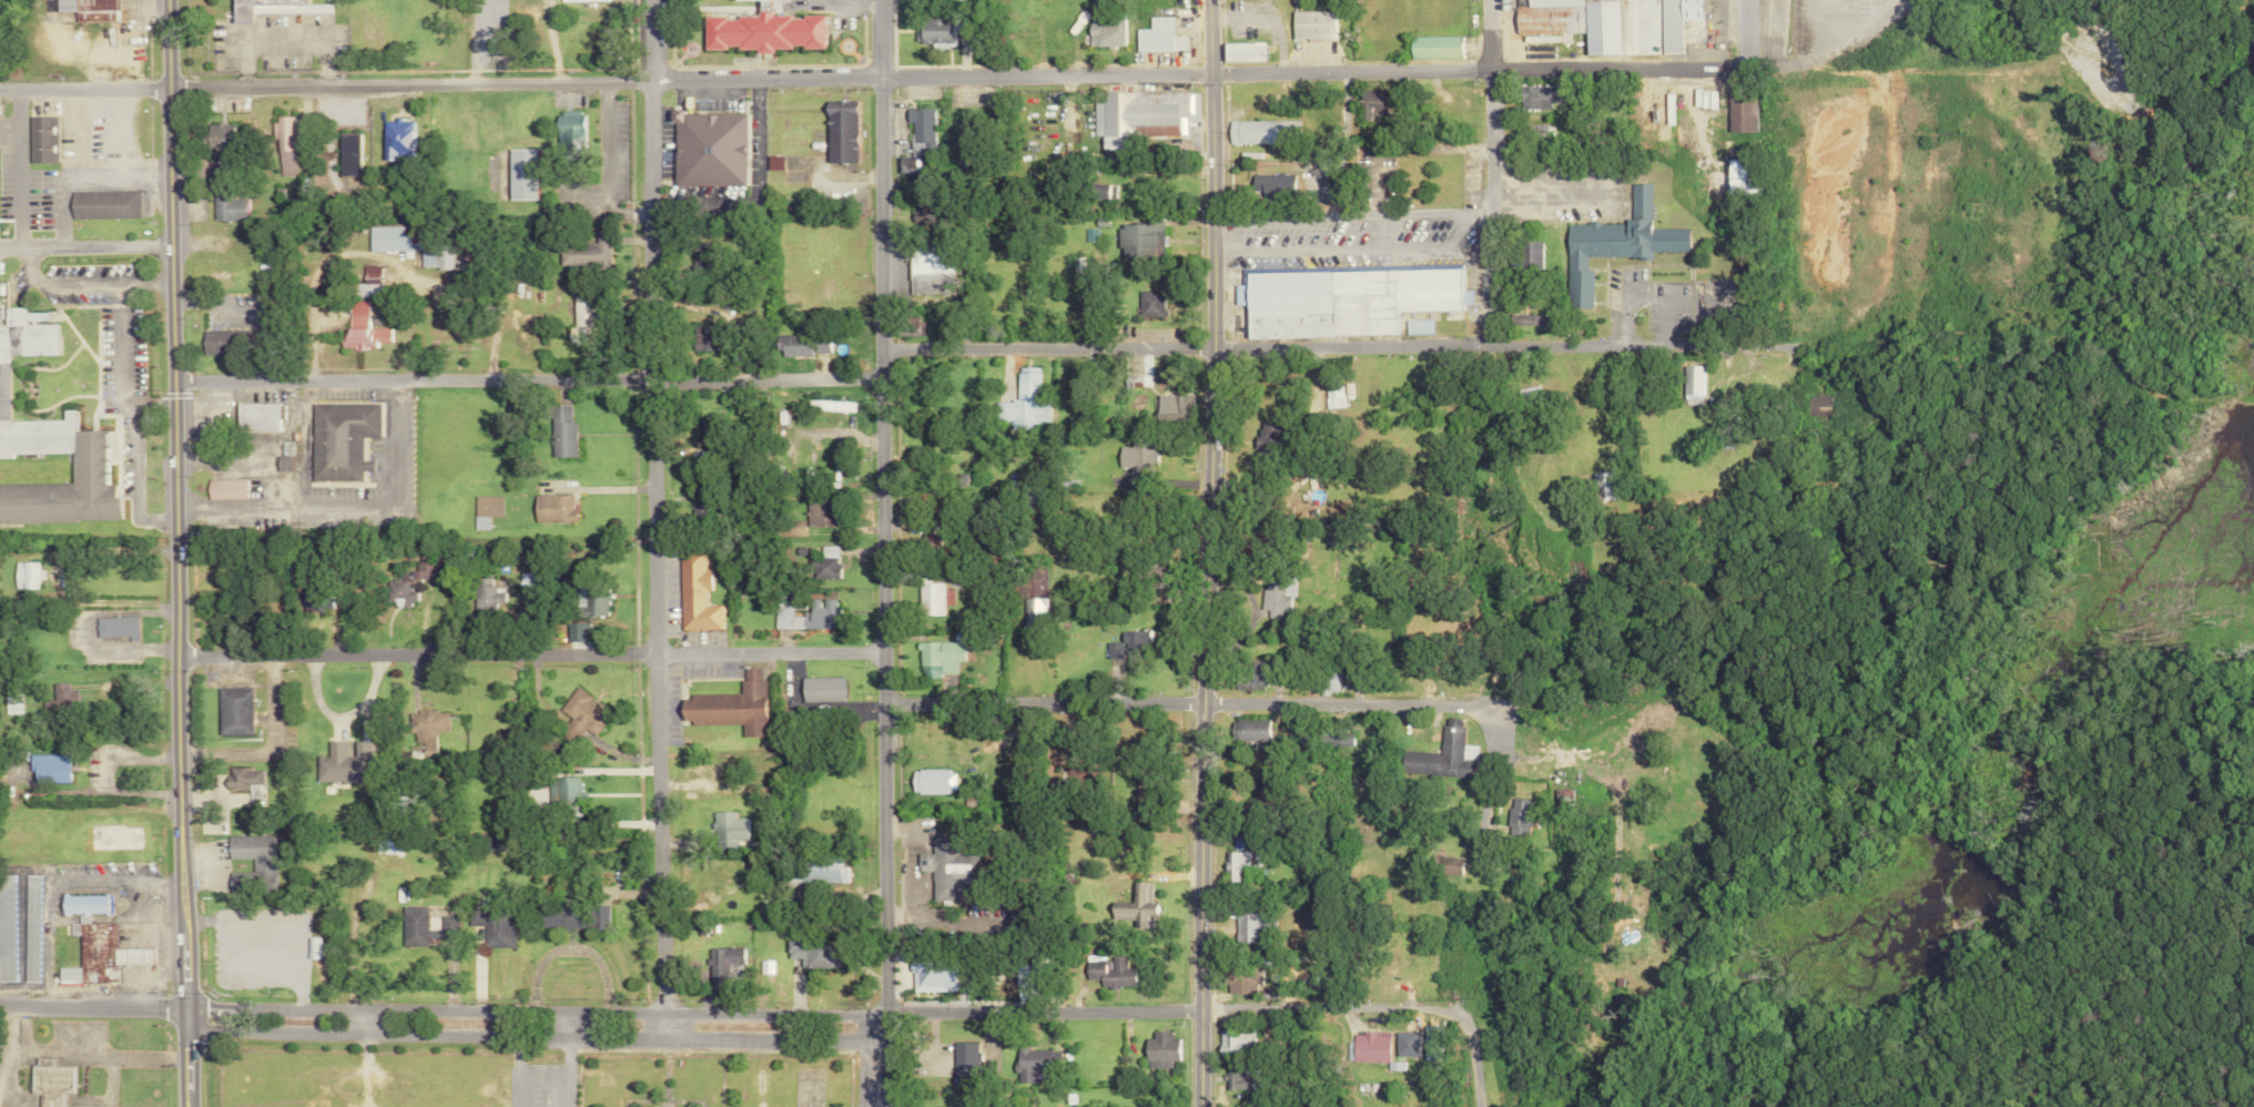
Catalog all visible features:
building: (567, 0)
building: (1297, 0)
building: (273, 8)
building: (87, 9)
building: (1674, 22)
building: (1311, 24)
building: (1598, 28)
building: (762, 30)
building: (933, 30)
building: (1106, 33)
road: (1745, 33)
building: (1158, 35)
road: (281, 41)
building: (1433, 47)
building: (1242, 51)
road: (1808, 55)
road: (869, 77)
building: (1539, 97)
building: (1368, 105)
building: (1738, 112)
building: (1138, 115)
road: (8, 121)
building: (569, 130)
building: (921, 130)
building: (1535, 130)
building: (841, 131)
building: (1261, 132)
building: (216, 136)
building: (39, 139)
building: (397, 140)
road: (1337, 143)
building: (285, 145)
building: (709, 149)
building: (349, 154)
building: (774, 163)
building: (906, 164)
road: (16, 167)
road: (1486, 172)
building: (520, 174)
building: (1734, 177)
building: (1270, 183)
building: (103, 204)
building: (230, 207)
road: (1332, 215)
road: (1472, 215)
road: (1455, 228)
building: (1614, 237)
building: (1140, 241)
building: (410, 244)
road: (83, 245)
road: (1330, 246)
building: (585, 252)
building: (1530, 255)
building: (699, 261)
building: (931, 272)
building: (369, 283)
building: (1353, 294)
building: (1150, 302)
road: (251, 307)
building: (1531, 316)
building: (1417, 326)
building: (362, 327)
building: (703, 338)
building: (217, 342)
building: (802, 345)
road: (1385, 345)
building: (1133, 378)
road: (526, 379)
building: (1692, 385)
building: (1527, 395)
building: (1024, 403)
building: (1823, 404)
building: (1172, 405)
building: (829, 406)
building: (256, 416)
building: (560, 433)
building: (1267, 437)
building: (341, 439)
building: (48, 441)
road: (394, 441)
building: (1137, 459)
road: (87, 469)
building: (1604, 486)
building: (224, 488)
building: (1025, 496)
road: (282, 507)
road: (653, 507)
building: (552, 508)
building: (485, 510)
building: (822, 514)
building: (794, 528)
road: (1204, 552)
road: (173, 553)
road: (884, 553)
building: (826, 563)
building: (24, 576)
building: (409, 583)
building: (696, 595)
building: (1278, 595)
building: (488, 597)
building: (933, 599)
building: (1034, 599)
building: (591, 602)
building: (822, 607)
building: (115, 627)
road: (88, 629)
building: (1129, 648)
road: (530, 653)
building: (937, 658)
building: (1250, 676)
building: (821, 689)
building: (61, 699)
road: (1143, 702)
building: (11, 703)
building: (730, 707)
road: (815, 707)
building: (234, 711)
road: (1483, 725)
building: (428, 729)
building: (1249, 730)
building: (1336, 737)
road: (270, 748)
building: (1429, 754)
building: (344, 764)
building: (49, 769)
building: (725, 775)
road: (102, 776)
building: (931, 782)
building: (245, 783)
building: (1562, 802)
building: (1519, 816)
building: (725, 830)
building: (112, 837)
building: (251, 865)
building: (1232, 865)
building: (1446, 865)
building: (948, 870)
building: (824, 875)
road: (50, 879)
building: (1134, 907)
building: (288, 913)
building: (570, 916)
road: (148, 918)
road: (164, 921)
building: (490, 923)
building: (1251, 926)
building: (423, 927)
building: (6, 928)
building: (29, 928)
building: (93, 944)
building: (309, 948)
building: (810, 953)
building: (717, 967)
building: (761, 967)
road: (144, 969)
building: (1108, 973)
building: (1238, 978)
road: (90, 1004)
road: (531, 1013)
road: (1148, 1013)
road: (658, 1028)
road: (531, 1038)
road: (1466, 1040)
building: (1232, 1043)
building: (1431, 1043)
building: (1404, 1044)
building: (1368, 1047)
building: (1158, 1050)
road: (6, 1054)
road: (93, 1054)
road: (562, 1059)
building: (961, 1060)
building: (1032, 1064)
building: (1239, 1078)
road: (109, 1080)
building: (47, 1081)

